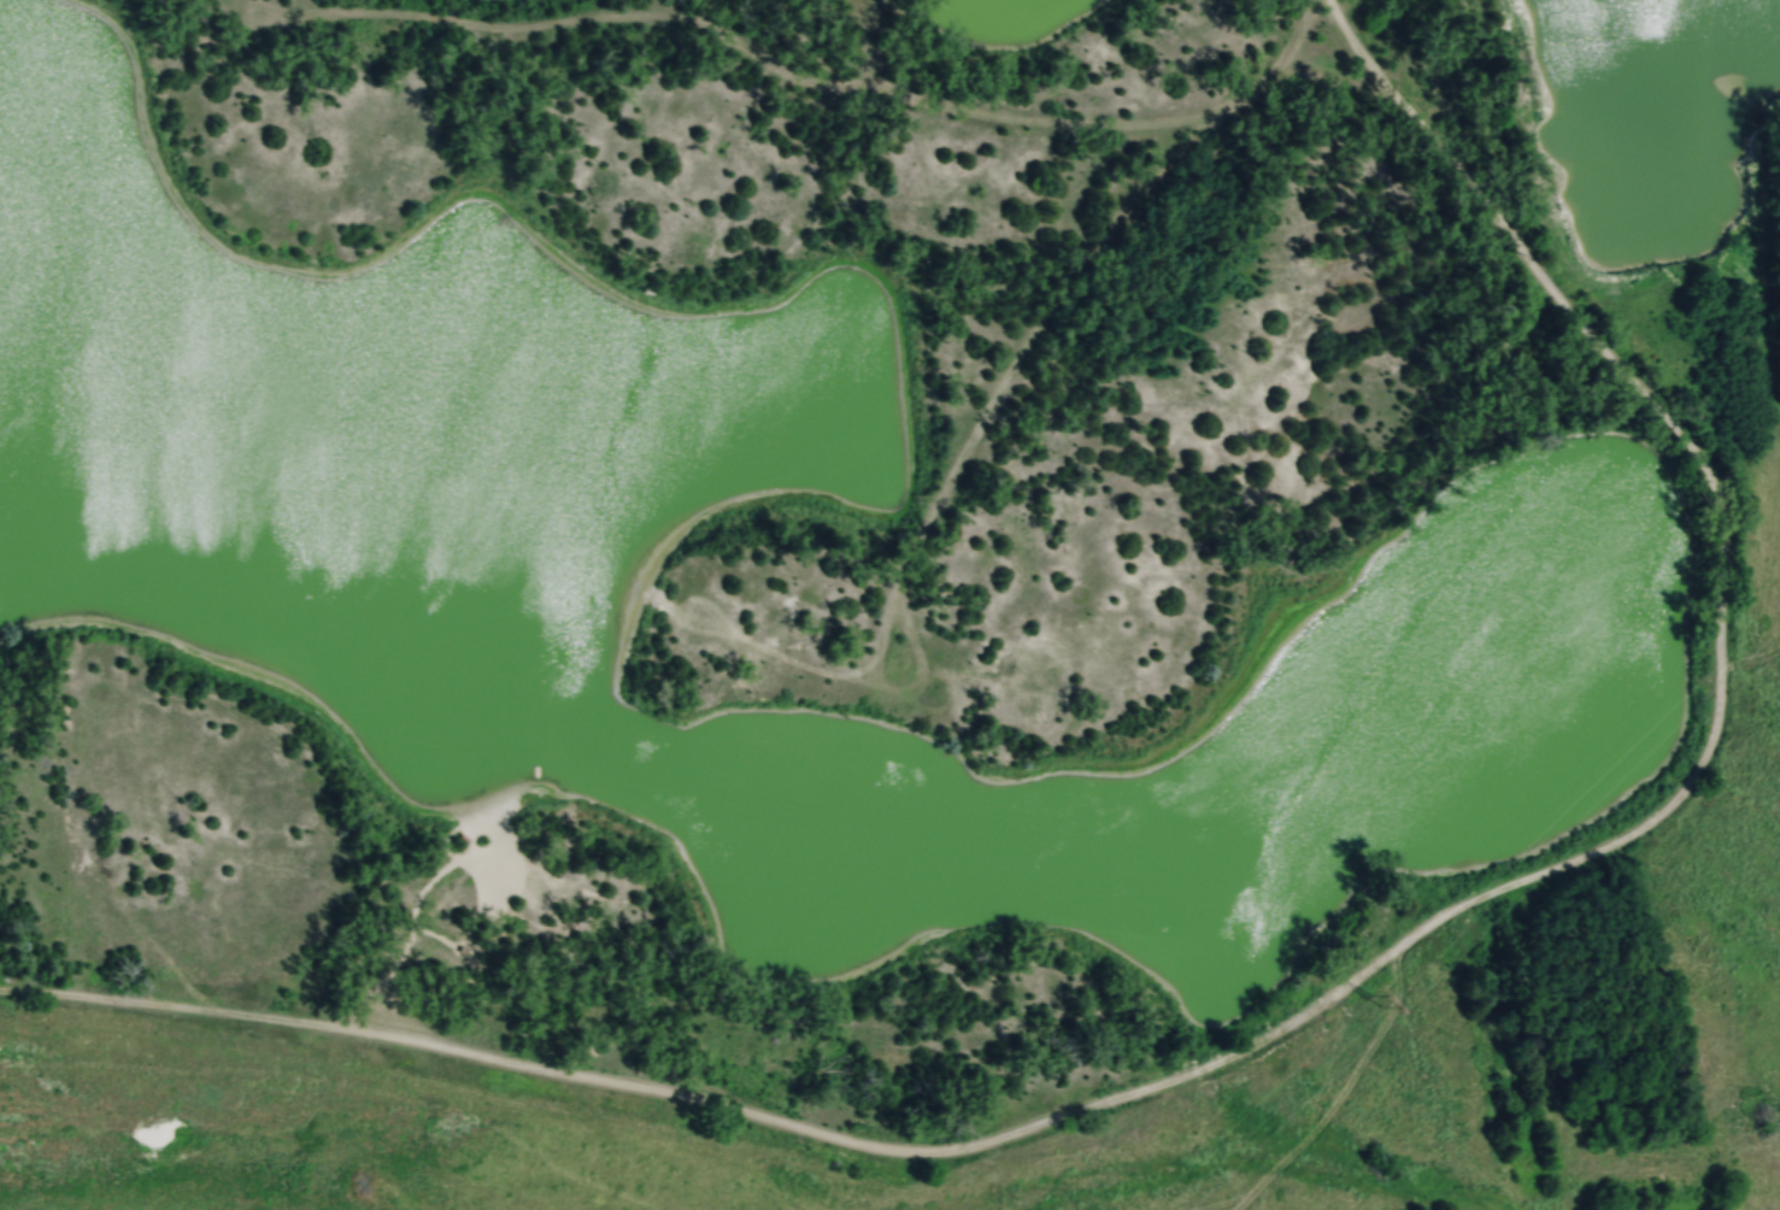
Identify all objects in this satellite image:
power tower: (1379, 997)
road: (1318, 1003)

